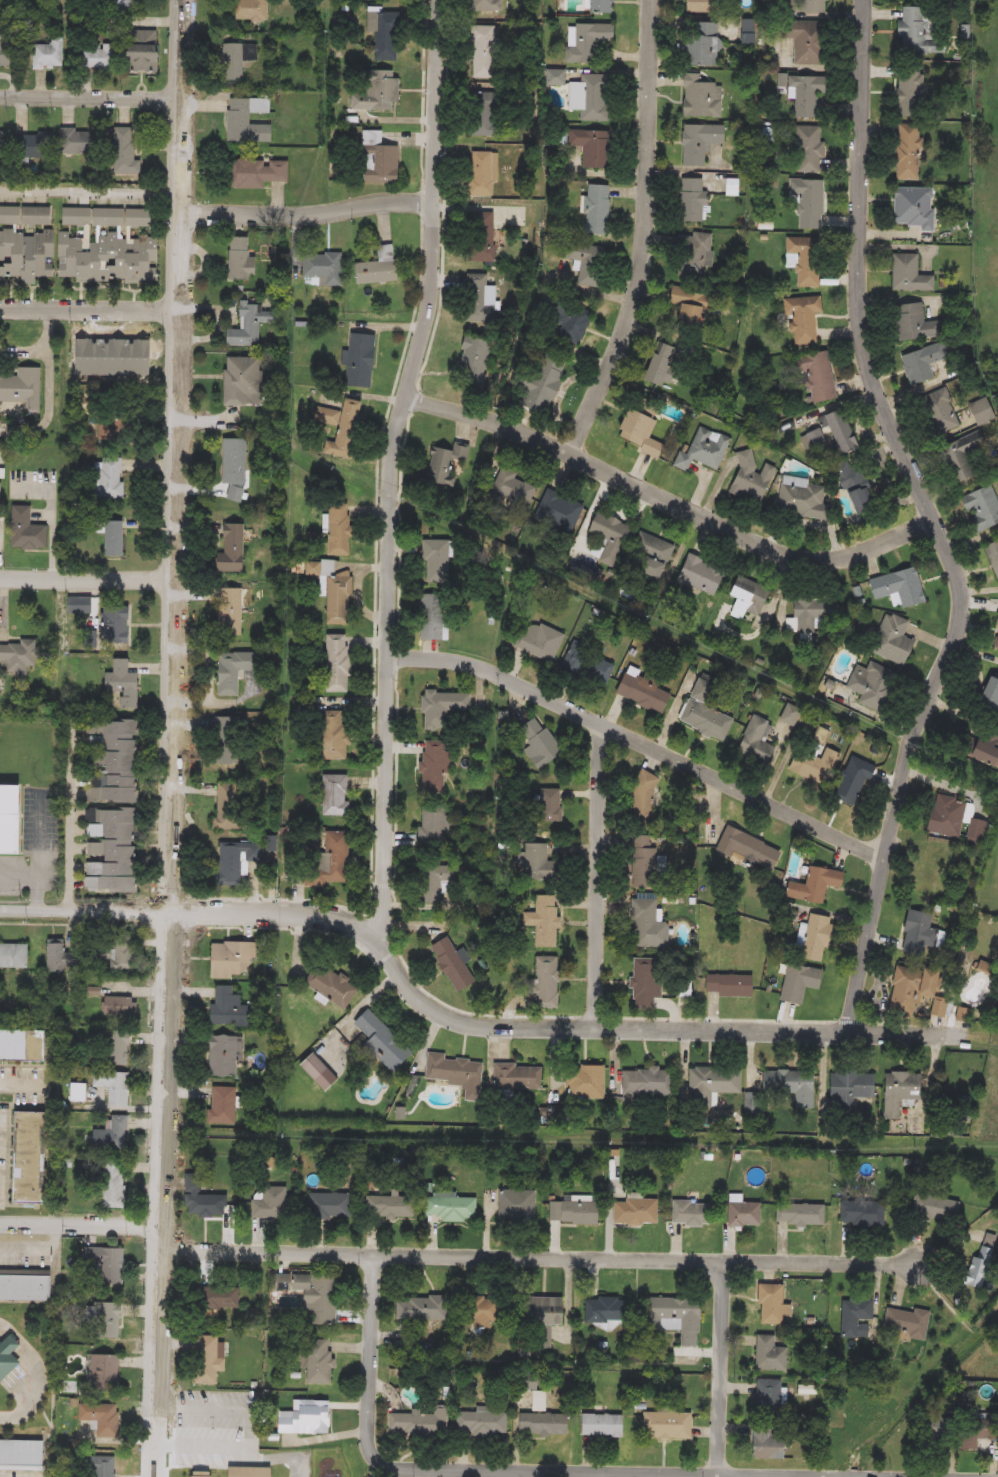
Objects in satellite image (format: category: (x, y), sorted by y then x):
building: (117, 4)
building: (486, 6)
building: (597, 6)
building: (699, 6)
building: (814, 6)
building: (249, 11)
building: (915, 32)
building: (385, 35)
building: (586, 41)
building: (807, 41)
building: (700, 44)
building: (138, 51)
building: (484, 51)
building: (7, 54)
building: (47, 55)
building: (98, 57)
building: (231, 63)
building: (378, 90)
road: (423, 94)
building: (805, 94)
building: (908, 95)
road: (91, 97)
building: (588, 98)
building: (700, 98)
building: (481, 114)
building: (246, 121)
building: (75, 142)
building: (698, 143)
building: (1, 145)
building: (33, 146)
building: (590, 147)
building: (807, 150)
building: (123, 152)
building: (907, 152)
building: (374, 159)
building: (253, 173)
building: (483, 176)
road: (91, 193)
road: (444, 196)
road: (422, 201)
building: (691, 201)
building: (808, 203)
building: (913, 208)
building: (595, 210)
road: (308, 214)
road: (646, 233)
building: (479, 237)
building: (25, 244)
building: (105, 244)
building: (696, 254)
building: (804, 260)
building: (239, 261)
building: (587, 264)
building: (376, 268)
building: (322, 269)
building: (908, 274)
building: (479, 299)
building: (686, 309)
road: (89, 310)
building: (803, 317)
building: (571, 322)
building: (913, 323)
building: (248, 325)
road: (40, 346)
building: (87, 357)
building: (112, 357)
building: (137, 357)
building: (357, 360)
building: (473, 360)
building: (924, 363)
building: (656, 365)
building: (815, 378)
building: (240, 382)
building: (539, 382)
building: (20, 392)
road: (415, 400)
road: (54, 407)
building: (939, 413)
building: (113, 422)
building: (339, 428)
building: (636, 433)
building: (830, 436)
building: (703, 450)
building: (967, 453)
building: (445, 467)
building: (233, 468)
road: (392, 469)
building: (108, 478)
building: (751, 478)
building: (859, 484)
building: (516, 488)
building: (802, 498)
road: (671, 500)
building: (556, 508)
building: (981, 508)
road: (937, 520)
road: (399, 528)
building: (337, 530)
building: (25, 531)
building: (608, 536)
building: (112, 539)
building: (229, 549)
building: (650, 557)
building: (992, 558)
building: (435, 561)
building: (700, 576)
road: (88, 583)
building: (899, 588)
building: (332, 593)
building: (746, 596)
building: (80, 606)
building: (229, 612)
building: (812, 613)
building: (432, 617)
building: (114, 626)
building: (894, 640)
building: (997, 640)
building: (539, 641)
road: (375, 653)
road: (398, 655)
building: (19, 656)
building: (336, 664)
building: (587, 667)
building: (231, 671)
building: (120, 684)
building: (871, 685)
building: (0, 686)
building: (641, 689)
building: (831, 692)
building: (989, 693)
building: (442, 708)
building: (705, 713)
building: (331, 733)
road: (173, 738)
building: (225, 741)
building: (537, 743)
building: (755, 743)
building: (984, 743)
road: (641, 744)
building: (434, 765)
building: (814, 767)
road: (396, 776)
building: (856, 787)
building: (333, 795)
building: (643, 798)
building: (549, 805)
building: (110, 806)
building: (227, 806)
building: (946, 817)
building: (13, 819)
building: (432, 830)
road: (72, 832)
road: (46, 833)
building: (749, 850)
building: (328, 861)
building: (640, 861)
building: (234, 862)
building: (537, 864)
building: (931, 872)
road: (41, 874)
road: (598, 876)
road: (383, 884)
building: (813, 885)
building: (435, 887)
road: (129, 905)
road: (157, 911)
road: (185, 912)
building: (543, 921)
road: (134, 923)
building: (646, 925)
road: (171, 927)
building: (920, 934)
building: (814, 938)
road: (386, 954)
building: (16, 956)
building: (64, 956)
building: (128, 957)
building: (231, 960)
building: (450, 964)
road: (181, 981)
building: (545, 983)
building: (644, 983)
building: (797, 983)
building: (330, 986)
building: (728, 986)
building: (909, 987)
building: (682, 988)
building: (228, 1006)
building: (124, 1007)
road: (475, 1012)
road: (596, 1015)
building: (961, 1015)
road: (724, 1018)
road: (449, 1019)
road: (850, 1020)
building: (378, 1040)
building: (25, 1046)
building: (119, 1048)
building: (226, 1056)
building: (312, 1067)
building: (454, 1073)
building: (516, 1077)
building: (646, 1082)
road: (14, 1083)
building: (584, 1083)
building: (712, 1084)
building: (789, 1086)
building: (117, 1087)
building: (849, 1088)
building: (899, 1092)
building: (81, 1093)
building: (227, 1106)
building: (112, 1142)
building: (32, 1159)
building: (116, 1183)
building: (206, 1199)
building: (273, 1203)
building: (333, 1206)
building: (393, 1208)
building: (520, 1208)
building: (455, 1209)
building: (936, 1209)
building: (575, 1210)
building: (635, 1212)
building: (689, 1213)
building: (743, 1214)
building: (799, 1214)
building: (862, 1214)
road: (81, 1220)
road: (42, 1248)
road: (174, 1250)
road: (552, 1256)
road: (825, 1261)
building: (981, 1261)
building: (108, 1267)
building: (27, 1286)
building: (317, 1296)
building: (224, 1297)
building: (770, 1304)
building: (424, 1308)
building: (543, 1310)
building: (606, 1310)
building: (488, 1313)
building: (675, 1317)
building: (855, 1317)
building: (109, 1322)
building: (905, 1324)
road: (172, 1325)
building: (769, 1353)
building: (214, 1356)
building: (10, 1357)
building: (323, 1362)
road: (39, 1373)
building: (108, 1373)
building: (767, 1398)
building: (105, 1417)
building: (309, 1418)
building: (421, 1423)
building: (485, 1423)
building: (545, 1424)
building: (666, 1424)
building: (600, 1425)
road: (251, 1428)
building: (938, 1435)
building: (973, 1436)
building: (767, 1442)
building: (24, 1454)
road: (188, 1464)
building: (108, 1466)
building: (253, 1472)
road: (583, 1474)
road: (719, 1476)

